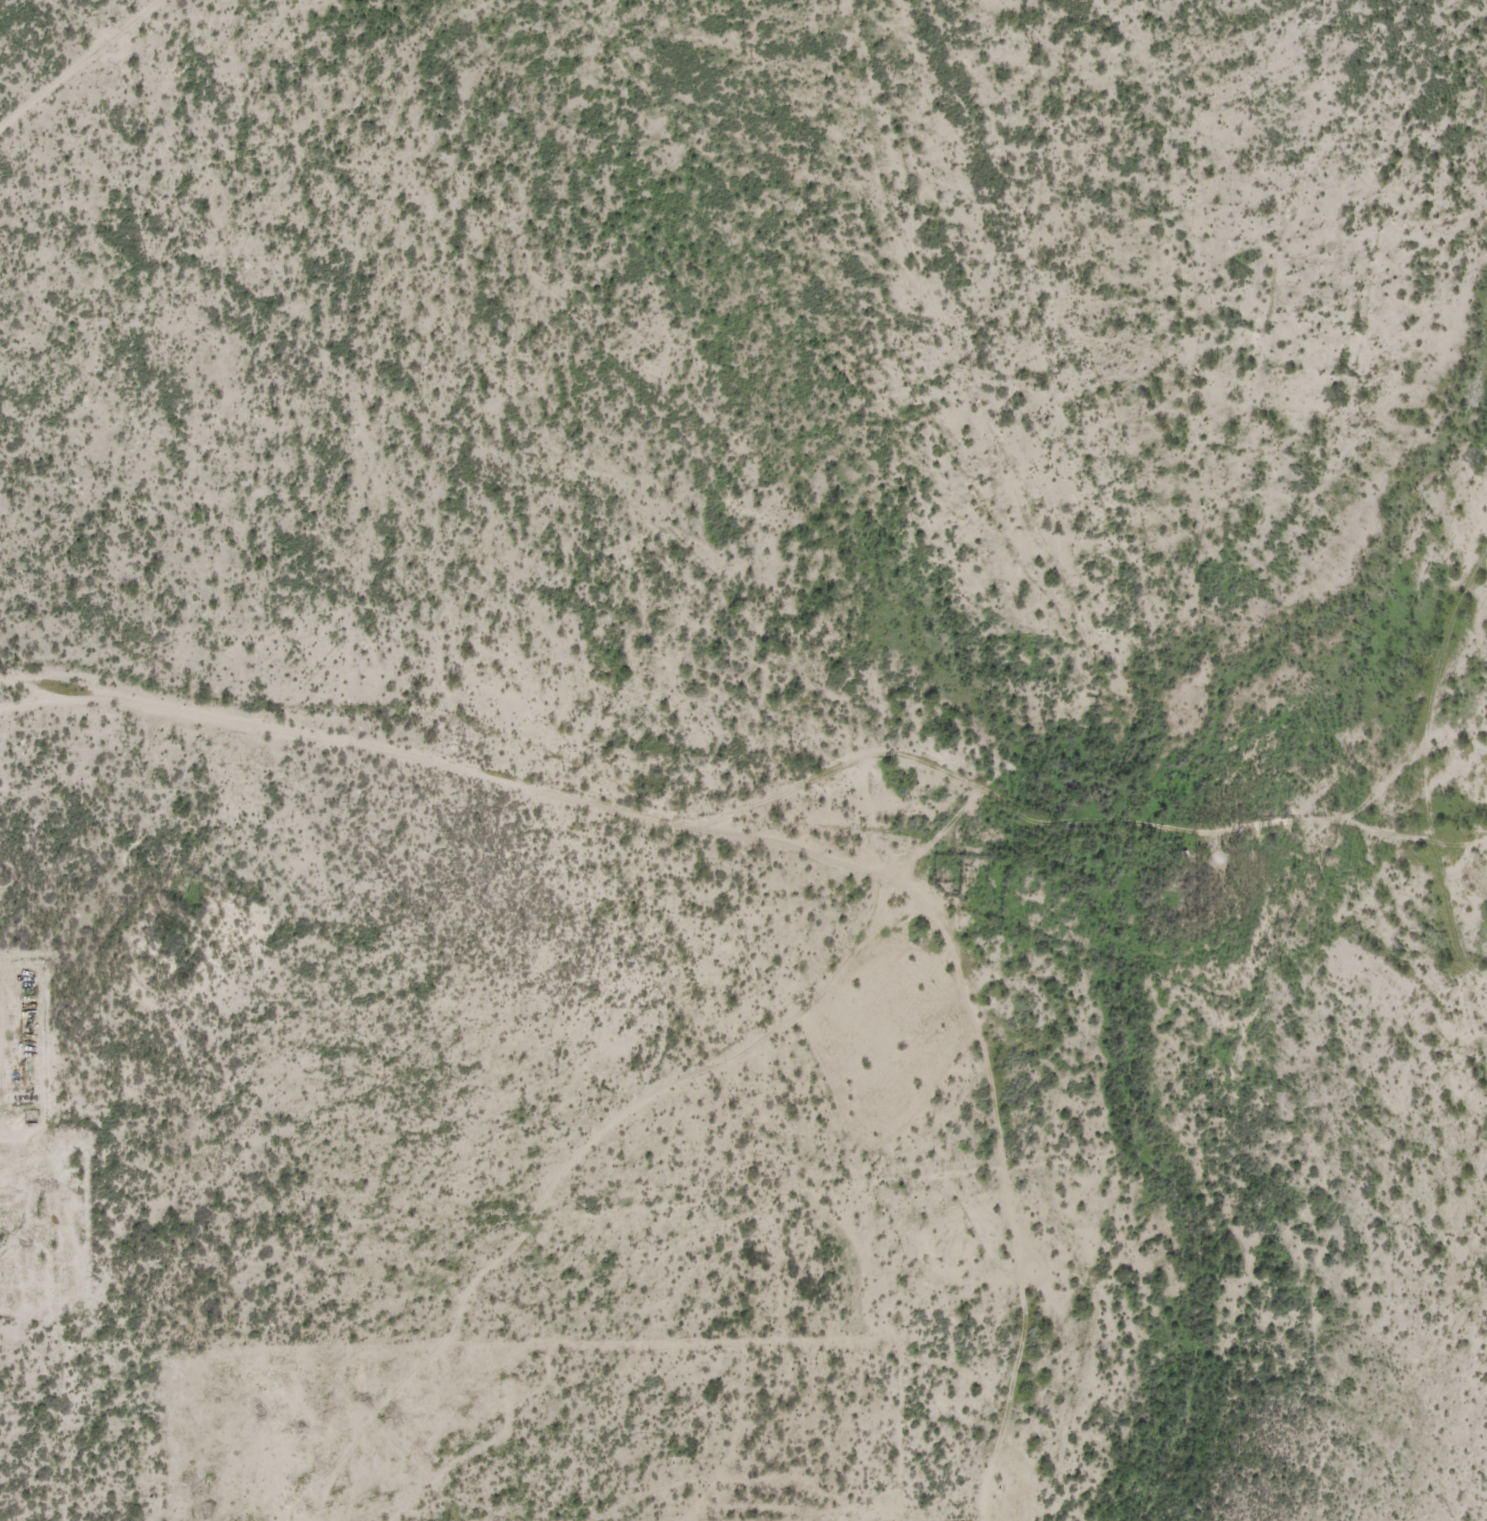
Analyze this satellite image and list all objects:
road: (81, 64)
road: (1423, 798)
road: (804, 832)
road: (59, 1090)
road: (1019, 1173)

